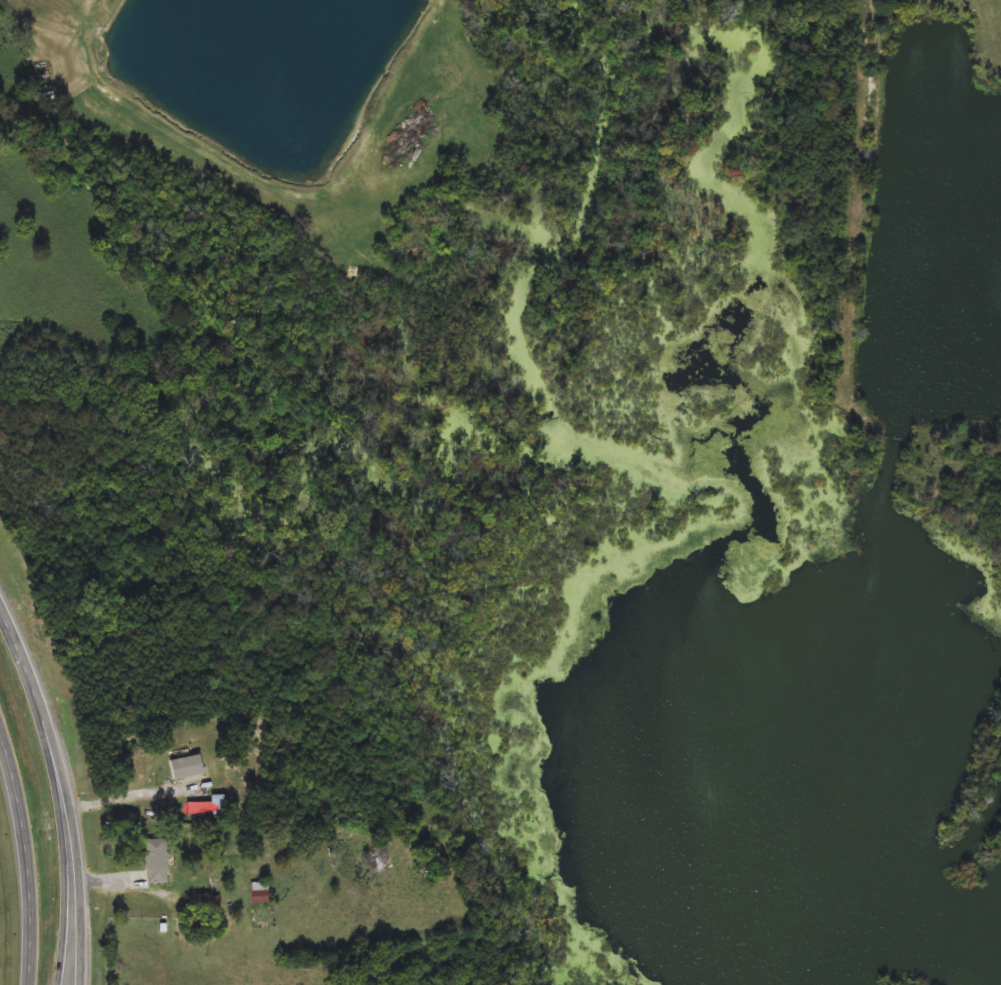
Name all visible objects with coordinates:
road: (403, 63)
road: (193, 142)
road: (17, 648)
building: (189, 768)
road: (127, 800)
building: (220, 806)
road: (75, 834)
road: (61, 835)
road: (27, 854)
building: (157, 862)
road: (108, 880)
building: (262, 893)
road: (28, 983)

